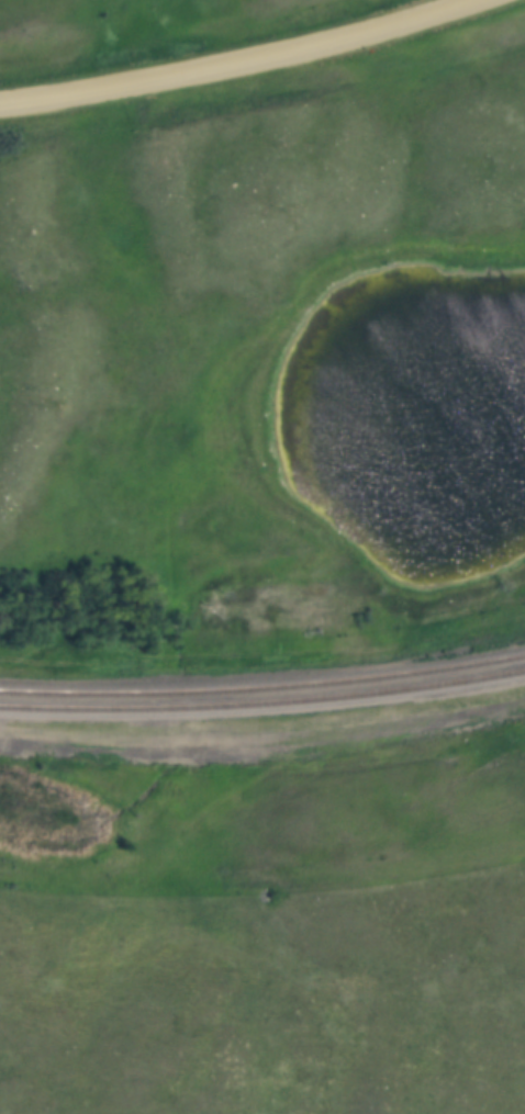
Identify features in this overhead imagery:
road: (244, 63)
railway: (262, 688)
railway: (262, 702)

